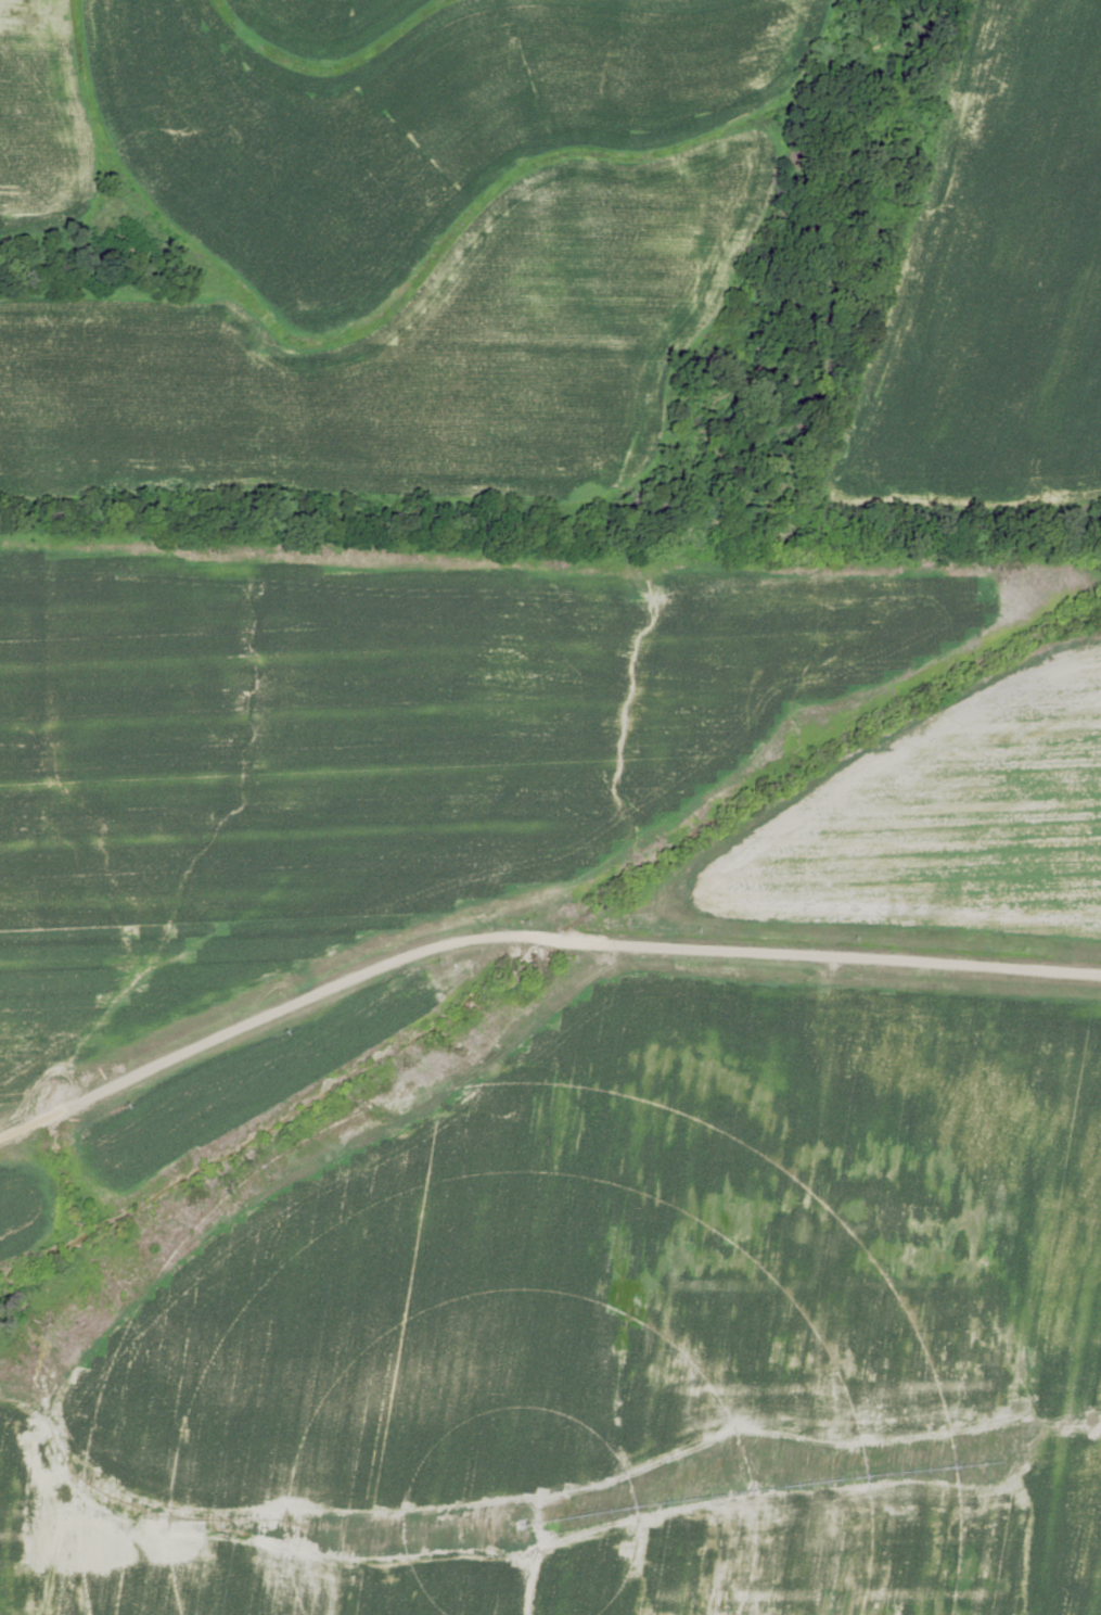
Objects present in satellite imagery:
road: (530, 928)

